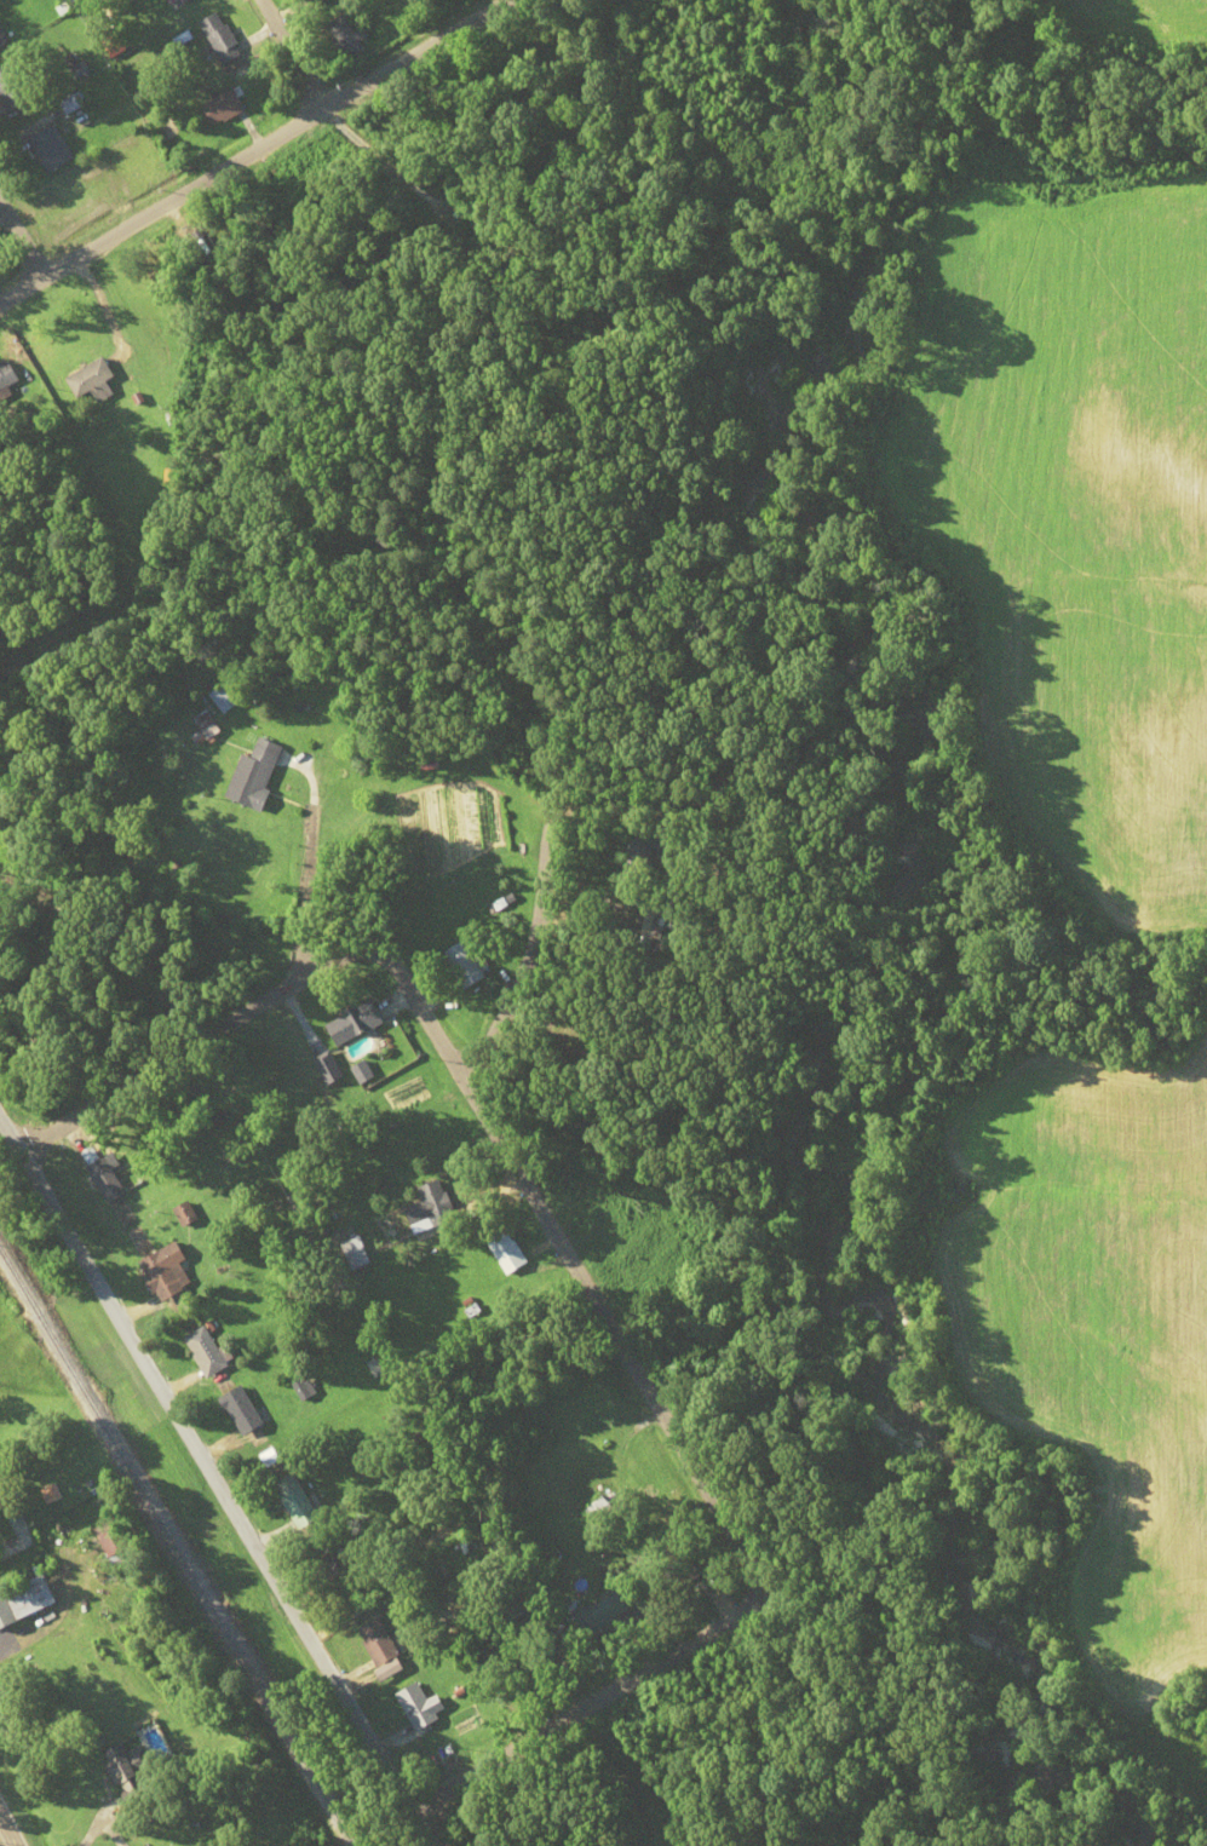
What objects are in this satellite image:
building: (316, 1)
building: (173, 2)
building: (345, 36)
building: (220, 38)
building: (1, 41)
road: (291, 54)
building: (11, 90)
building: (223, 107)
building: (51, 148)
road: (254, 149)
road: (22, 232)
building: (5, 375)
building: (91, 381)
building: (222, 698)
building: (205, 724)
building: (259, 774)
road: (308, 876)
road: (505, 950)
building: (466, 964)
road: (168, 1018)
building: (352, 1023)
building: (104, 1180)
building: (427, 1208)
building: (184, 1214)
building: (507, 1252)
building: (354, 1253)
building: (168, 1271)
building: (207, 1351)
road: (602, 1405)
building: (241, 1410)
road: (191, 1438)
building: (366, 1462)
building: (0, 1479)
building: (295, 1502)
building: (602, 1513)
building: (113, 1542)
railway: (178, 1548)
building: (331, 1564)
building: (24, 1601)
building: (598, 1616)
building: (377, 1643)
building: (418, 1707)
building: (125, 1773)
road: (433, 1813)
road: (5, 1835)

